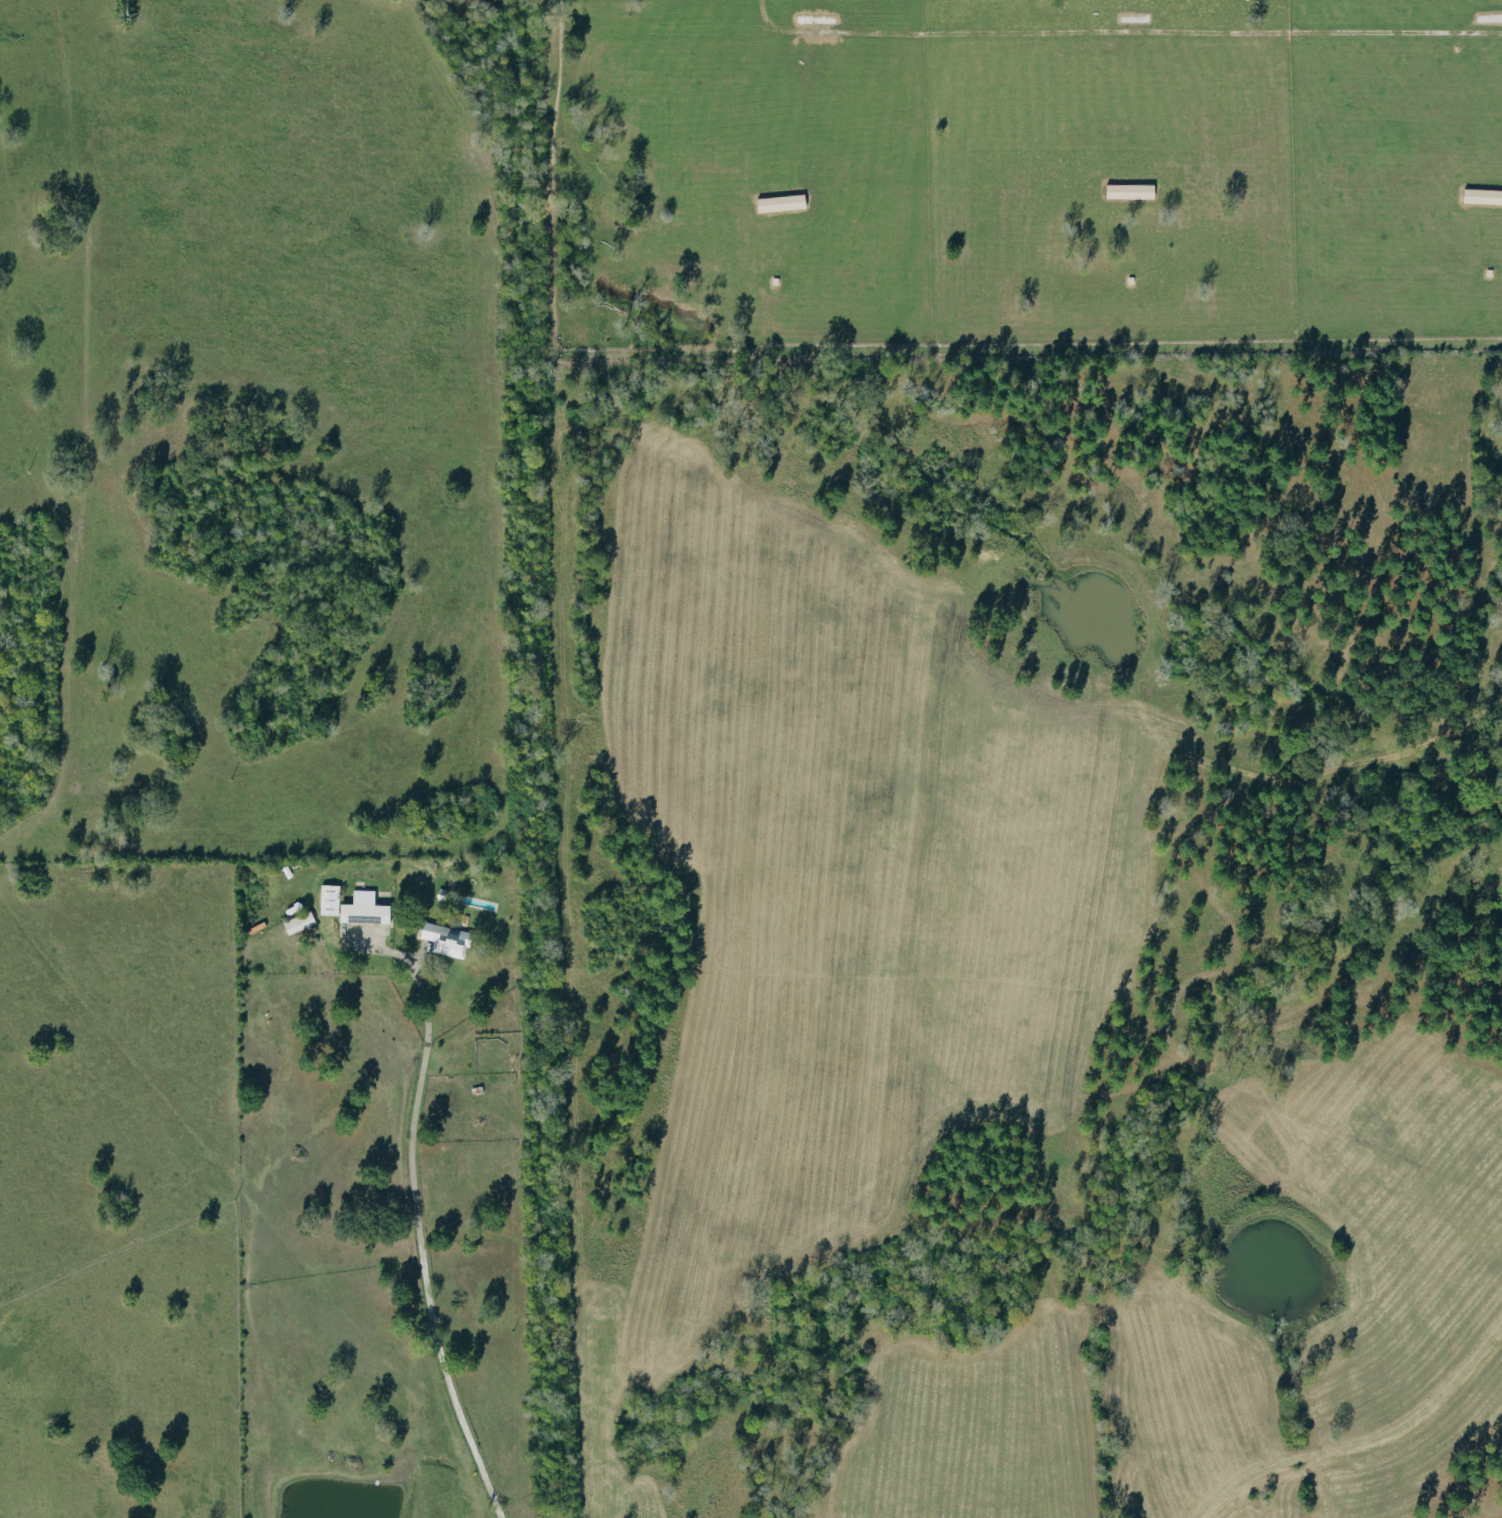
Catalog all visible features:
road: (1123, 31)
building: (1133, 190)
building: (1484, 195)
building: (783, 202)
building: (332, 899)
building: (367, 909)
building: (448, 939)
road: (421, 1241)

